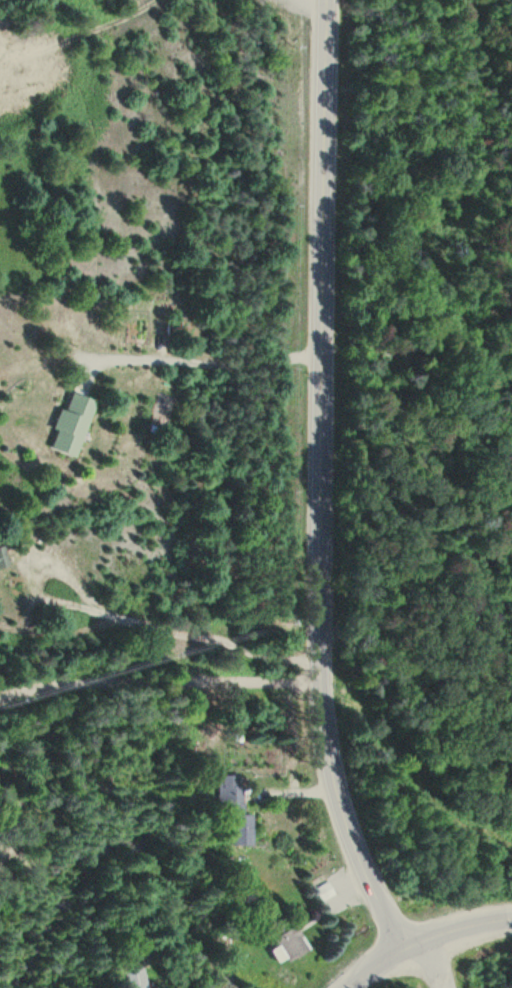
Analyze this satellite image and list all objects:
road: (242, 362)
building: (75, 425)
road: (322, 483)
building: (5, 559)
building: (238, 809)
building: (327, 891)
road: (425, 942)
building: (292, 944)
road: (423, 969)
building: (140, 979)

